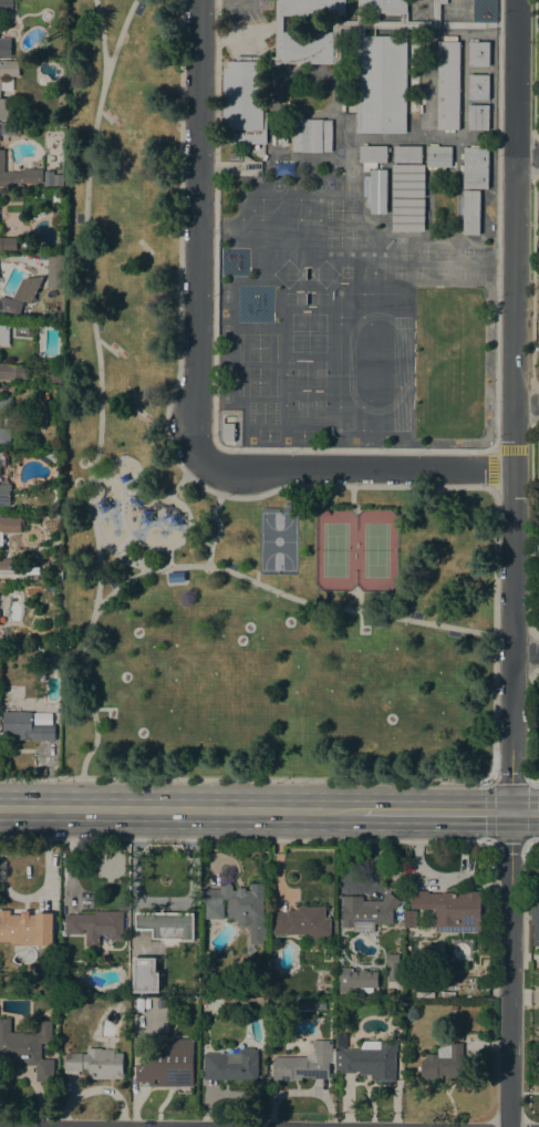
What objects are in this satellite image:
building: (442, 1)
building: (6, 6)
building: (382, 7)
building: (313, 8)
building: (381, 27)
road: (100, 33)
building: (274, 38)
building: (6, 48)
building: (307, 48)
building: (478, 54)
building: (9, 69)
building: (381, 85)
building: (447, 85)
building: (478, 86)
building: (243, 101)
building: (4, 110)
building: (478, 116)
building: (311, 135)
building: (282, 138)
building: (372, 154)
building: (406, 154)
road: (526, 154)
building: (438, 156)
building: (475, 167)
building: (18, 174)
building: (59, 179)
building: (407, 180)
building: (49, 182)
building: (377, 192)
building: (470, 213)
building: (407, 215)
building: (538, 226)
road: (197, 230)
building: (8, 242)
road: (177, 260)
building: (145, 270)
building: (55, 271)
building: (20, 297)
building: (4, 334)
building: (538, 339)
building: (13, 371)
building: (54, 371)
road: (99, 389)
building: (4, 404)
road: (526, 404)
building: (228, 432)
building: (4, 437)
road: (355, 448)
building: (52, 456)
road: (121, 458)
building: (538, 459)
road: (354, 469)
road: (491, 469)
road: (105, 475)
road: (184, 477)
building: (4, 493)
road: (493, 496)
park: (226, 511)
road: (213, 518)
building: (9, 527)
road: (184, 538)
road: (197, 540)
park: (277, 540)
building: (538, 541)
road: (121, 542)
park: (354, 549)
road: (120, 557)
road: (168, 558)
road: (511, 562)
building: (9, 566)
building: (55, 575)
building: (176, 577)
building: (538, 583)
building: (538, 593)
road: (296, 600)
building: (35, 644)
road: (526, 653)
building: (42, 673)
building: (537, 713)
building: (25, 726)
road: (246, 779)
road: (528, 779)
road: (535, 779)
road: (180, 810)
road: (435, 811)
traffic signals: (510, 813)
road: (524, 813)
road: (532, 844)
road: (164, 900)
building: (240, 907)
building: (450, 909)
building: (366, 912)
building: (535, 912)
building: (410, 919)
building: (302, 923)
building: (166, 924)
building: (94, 926)
building: (27, 928)
building: (392, 966)
building: (145, 975)
building: (356, 980)
building: (49, 986)
building: (203, 1000)
building: (321, 1006)
building: (27, 1047)
building: (367, 1058)
building: (96, 1063)
building: (307, 1063)
building: (447, 1063)
building: (169, 1064)
building: (231, 1065)

